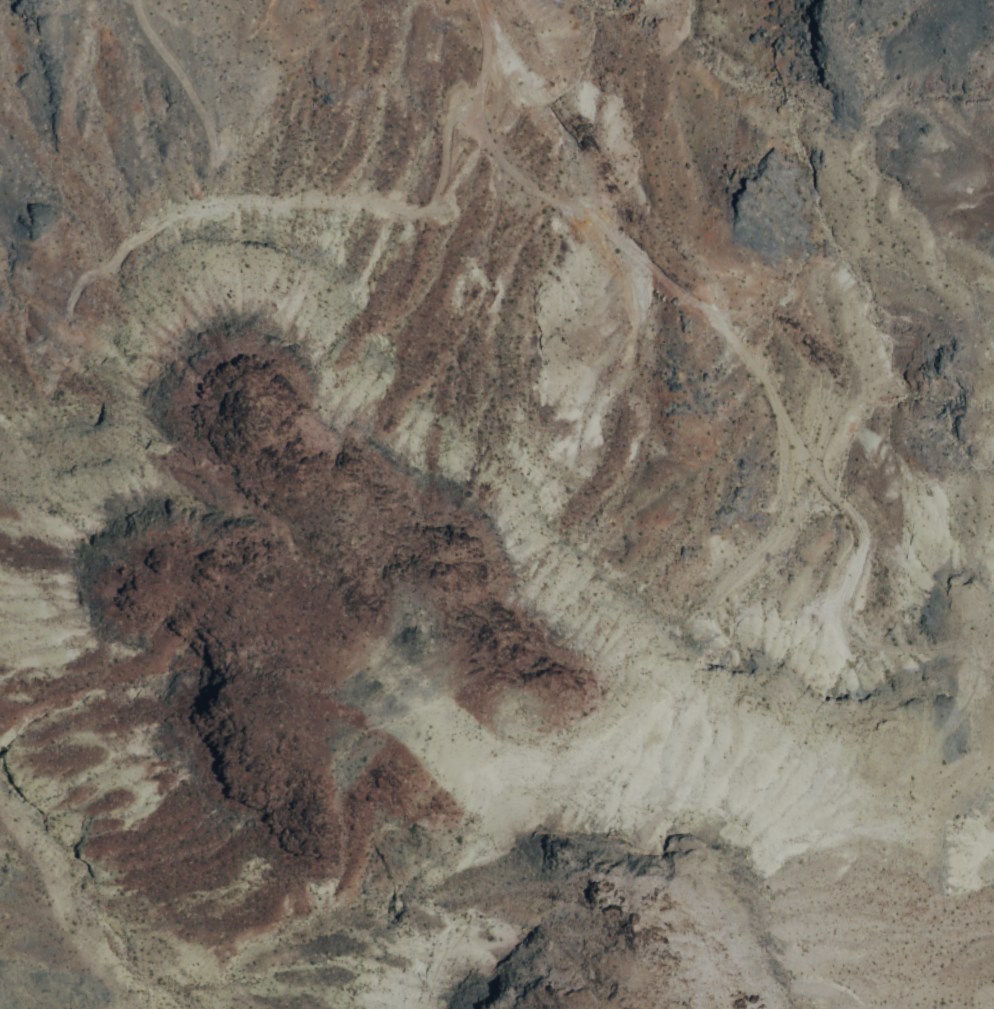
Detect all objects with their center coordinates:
road: (504, 67)
road: (185, 74)
road: (782, 412)

